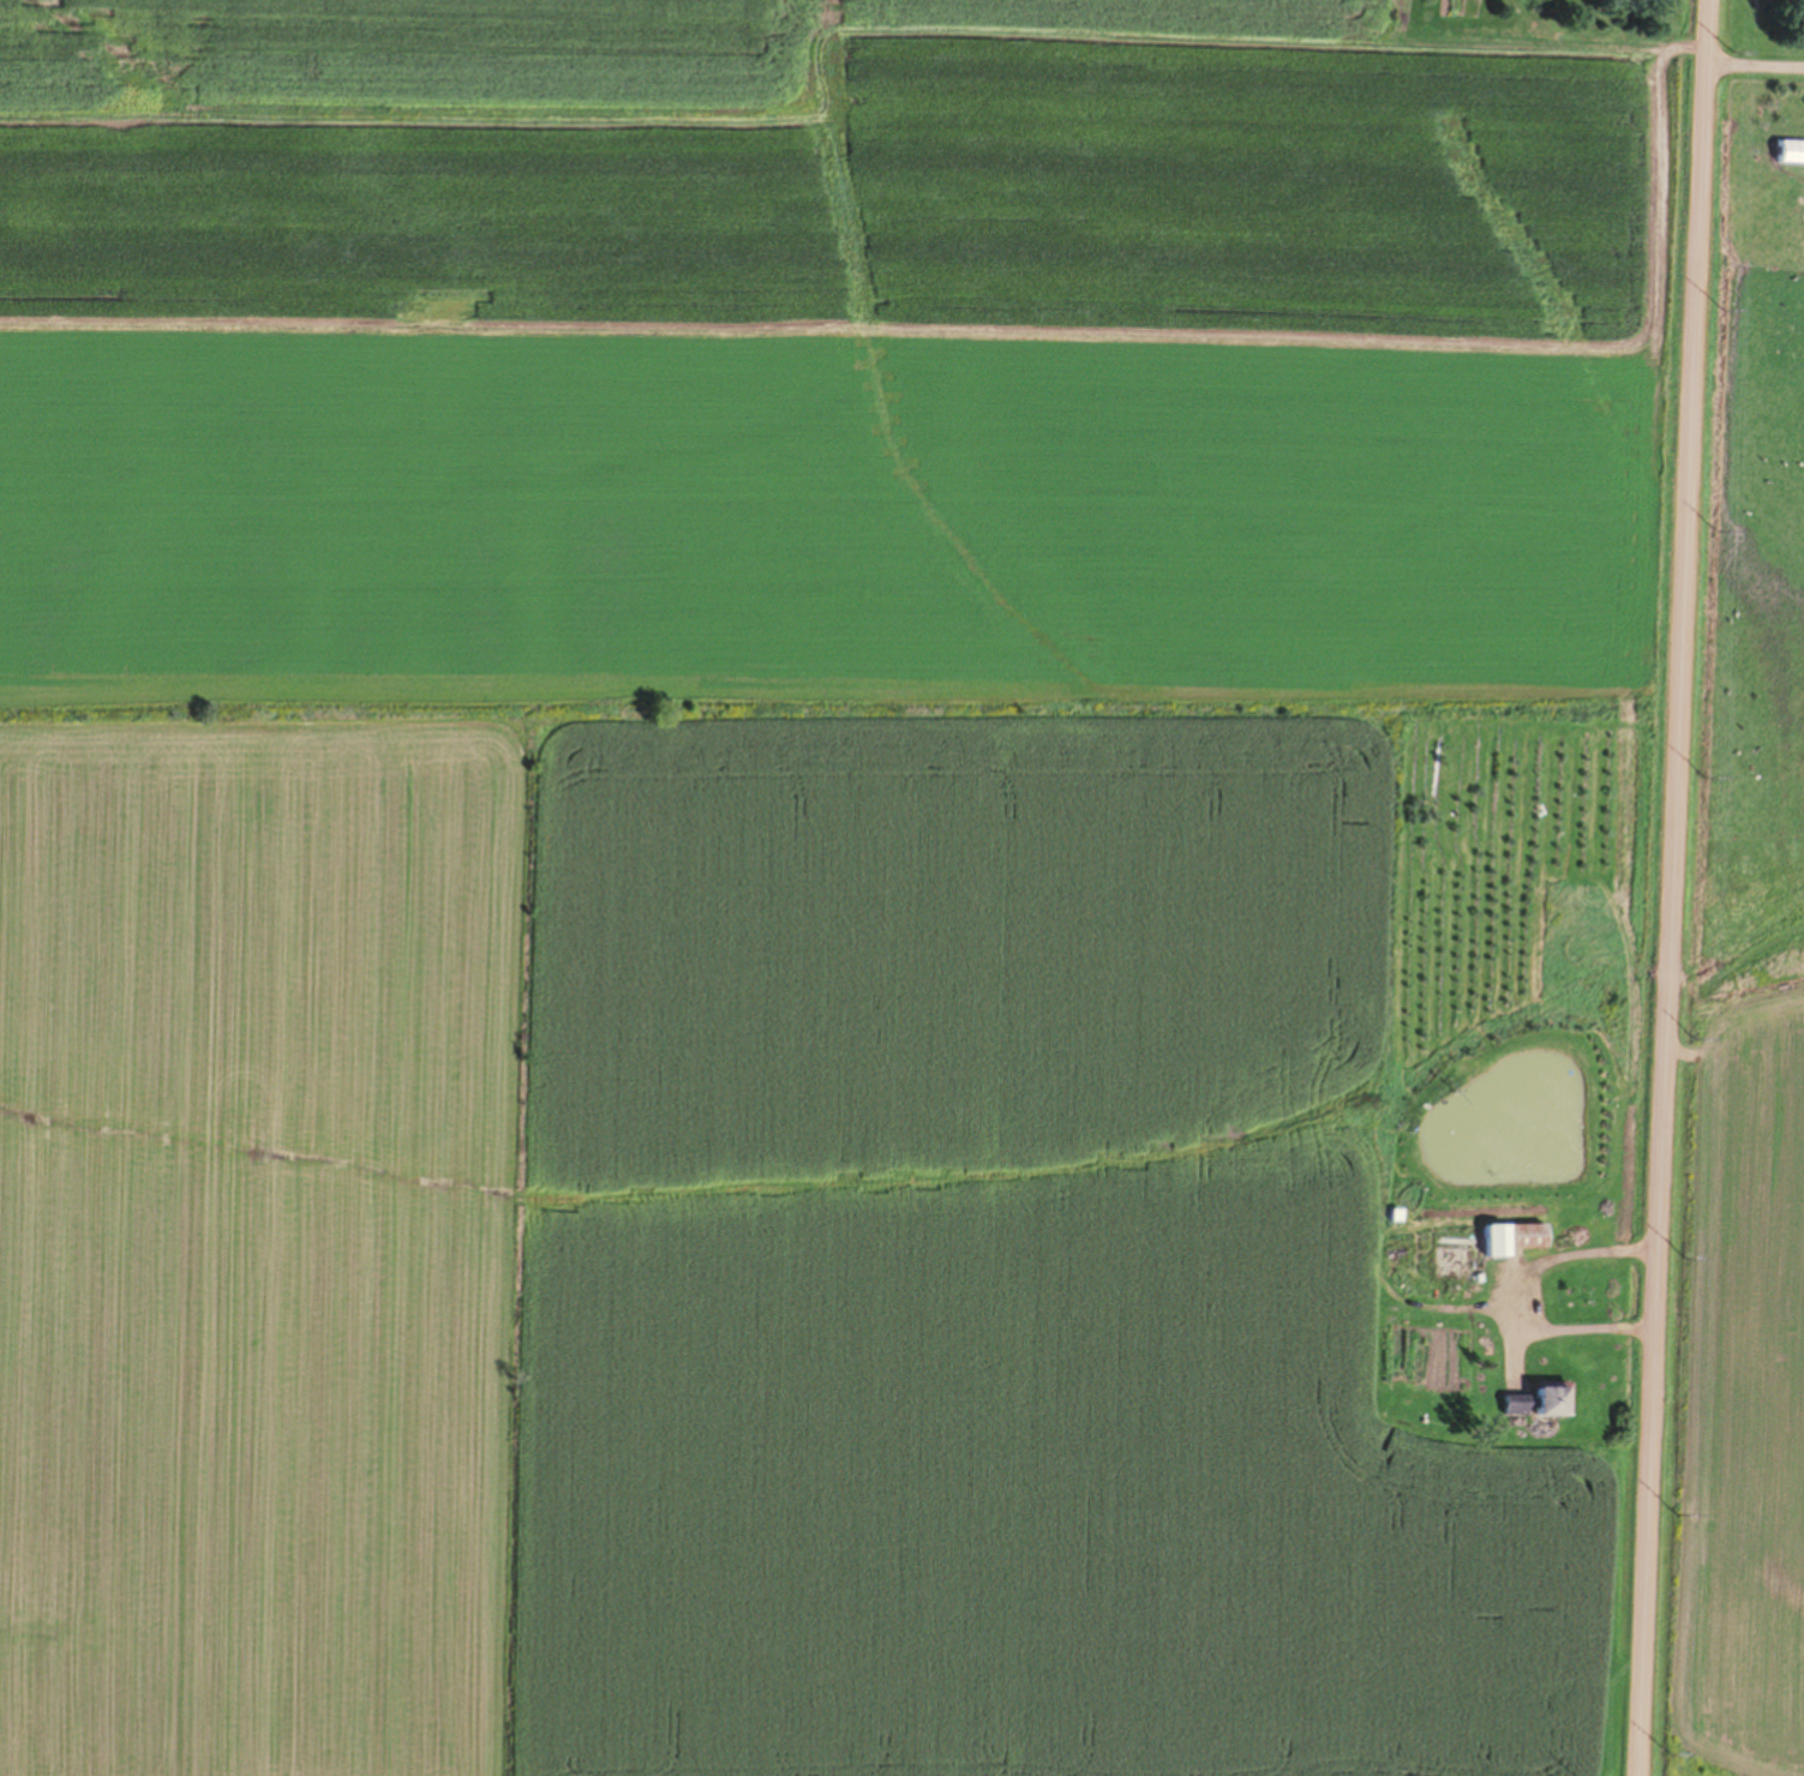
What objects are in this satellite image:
building: (1791, 150)
road: (1674, 887)
building: (1512, 1236)
building: (1540, 1398)

